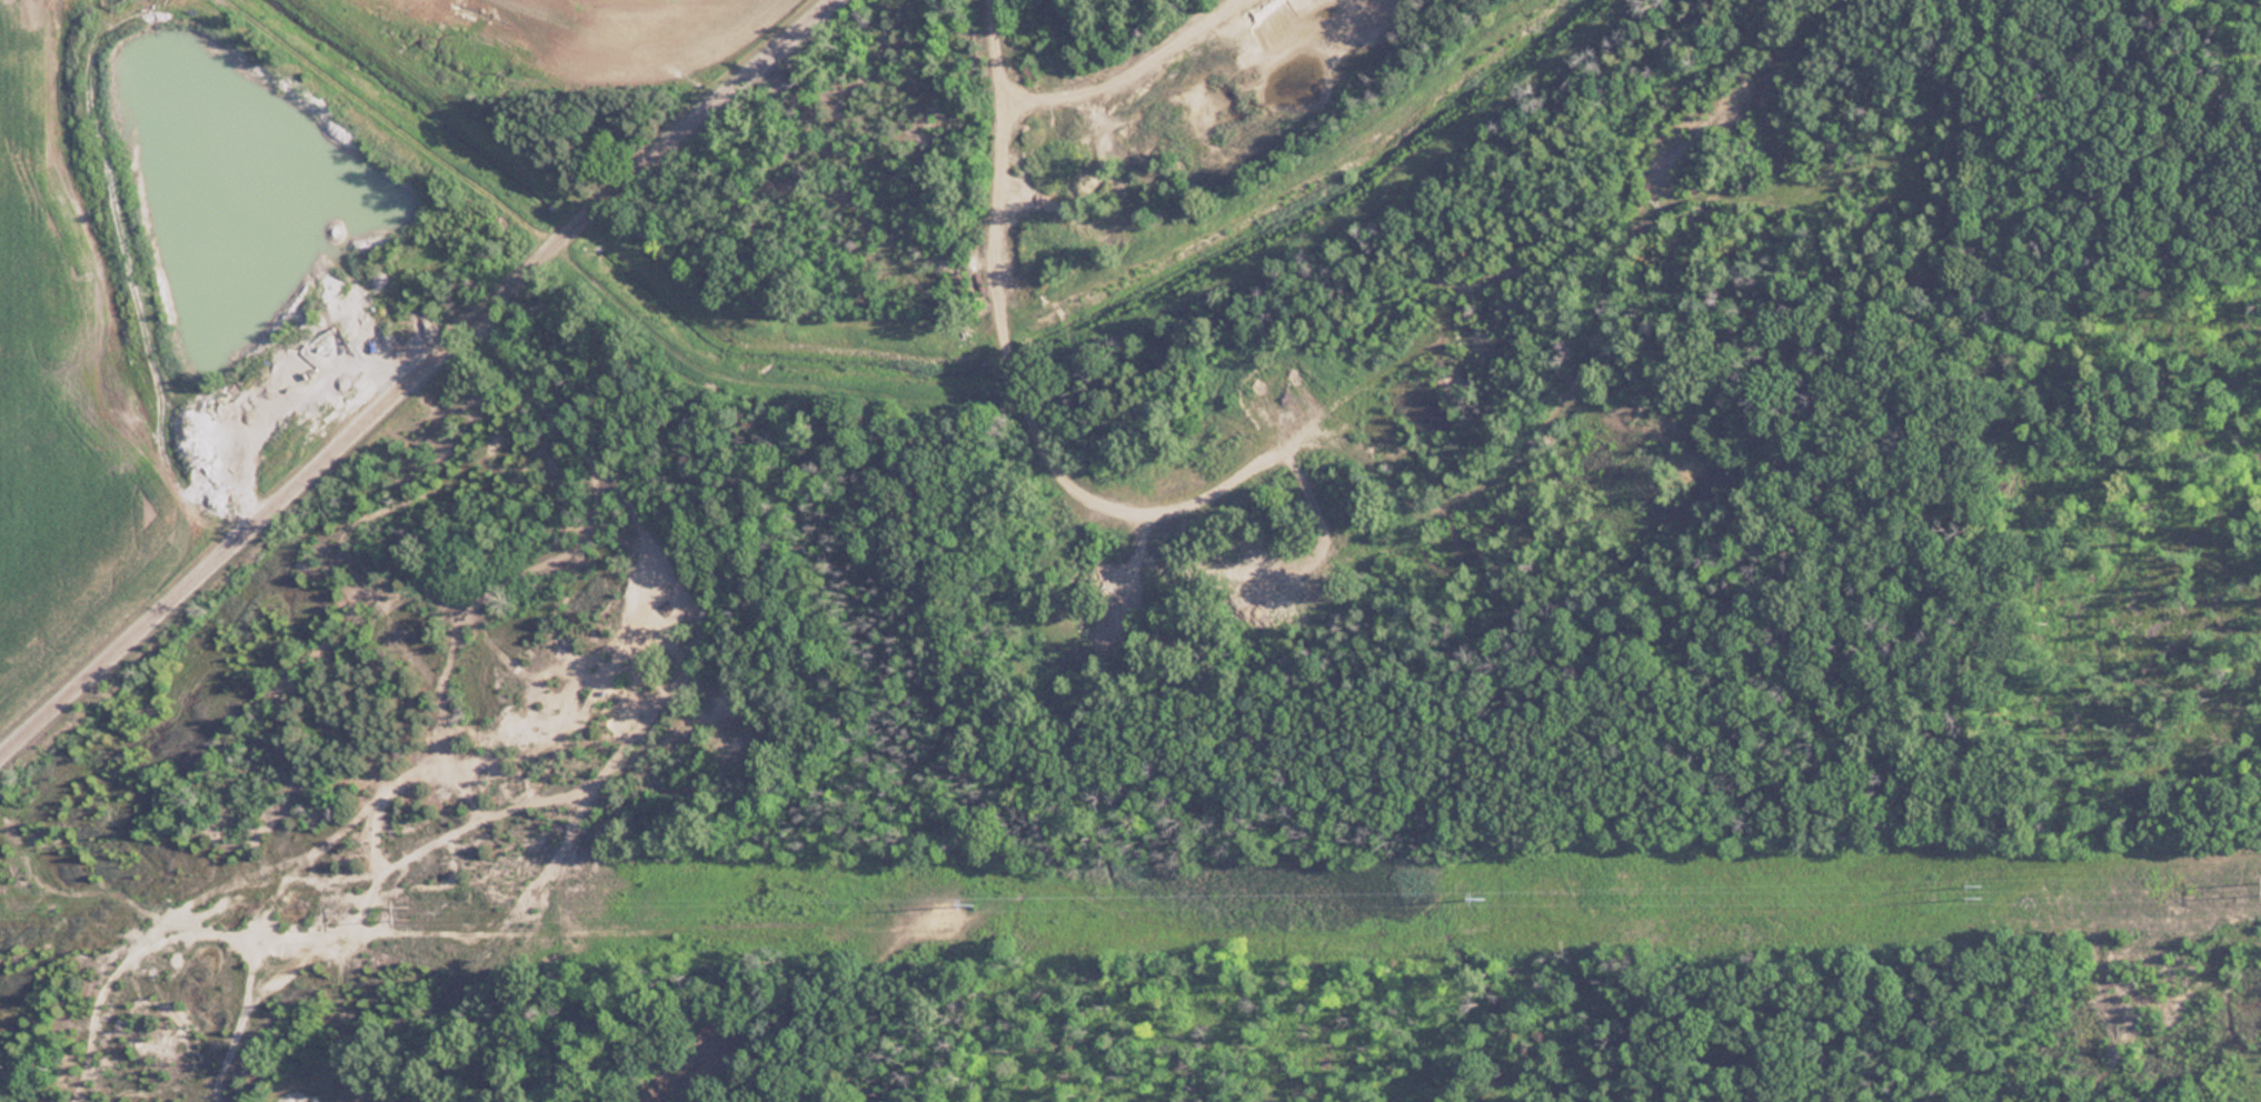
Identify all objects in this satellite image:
road: (984, 252)
road: (417, 380)
power tower: (1990, 892)
power tower: (1491, 895)
power tower: (977, 909)
power tower: (408, 911)
road: (466, 1098)

